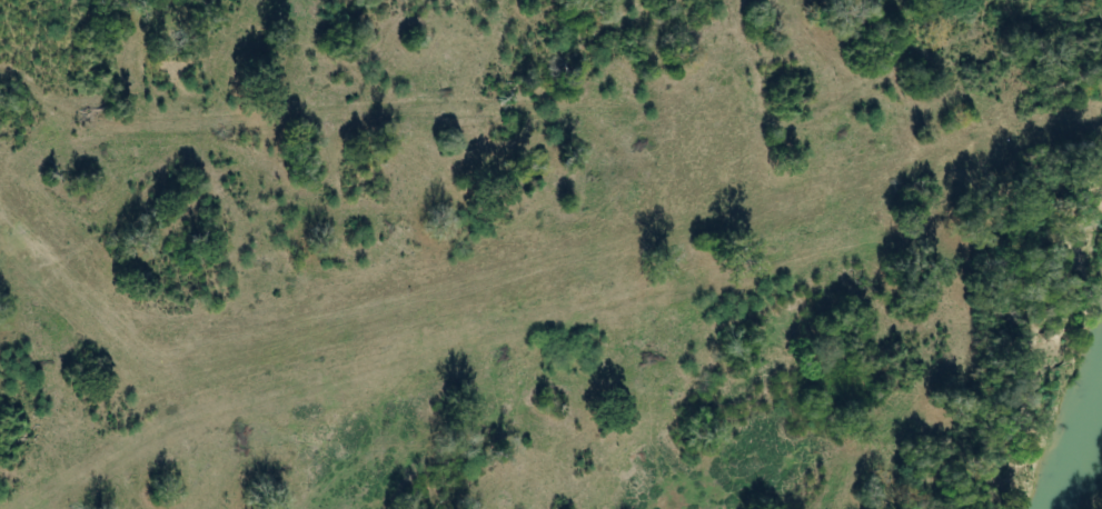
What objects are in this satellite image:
river: (1081, 453)

